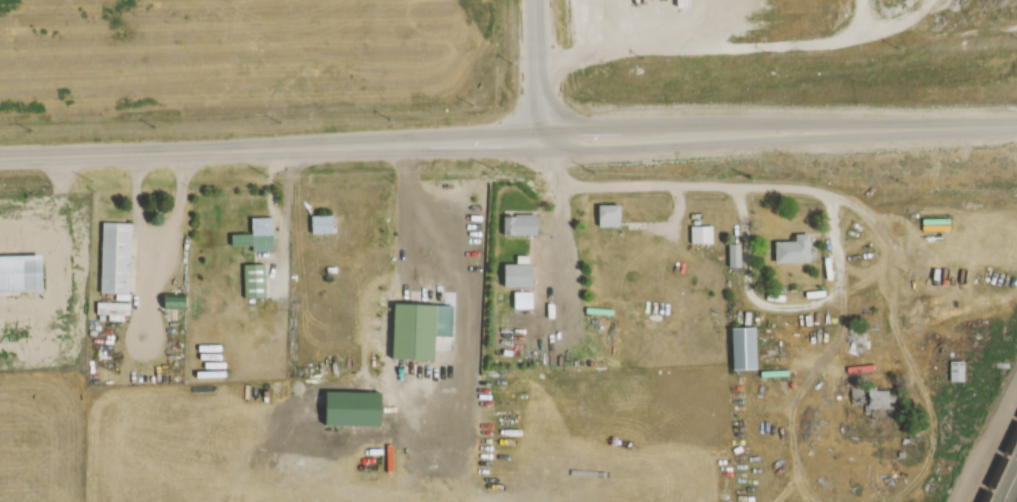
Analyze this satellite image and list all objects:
road: (534, 70)
road: (663, 118)
road: (914, 123)
road: (257, 136)
road: (661, 138)
road: (781, 187)
road: (408, 211)
road: (62, 213)
building: (609, 214)
building: (321, 224)
building: (934, 224)
building: (522, 225)
building: (702, 234)
building: (257, 235)
building: (795, 250)
building: (116, 257)
building: (22, 273)
building: (519, 275)
building: (253, 280)
road: (784, 306)
building: (414, 332)
building: (746, 349)
building: (956, 371)
building: (880, 399)
road: (991, 447)
railway: (998, 462)
railway: (1008, 484)

